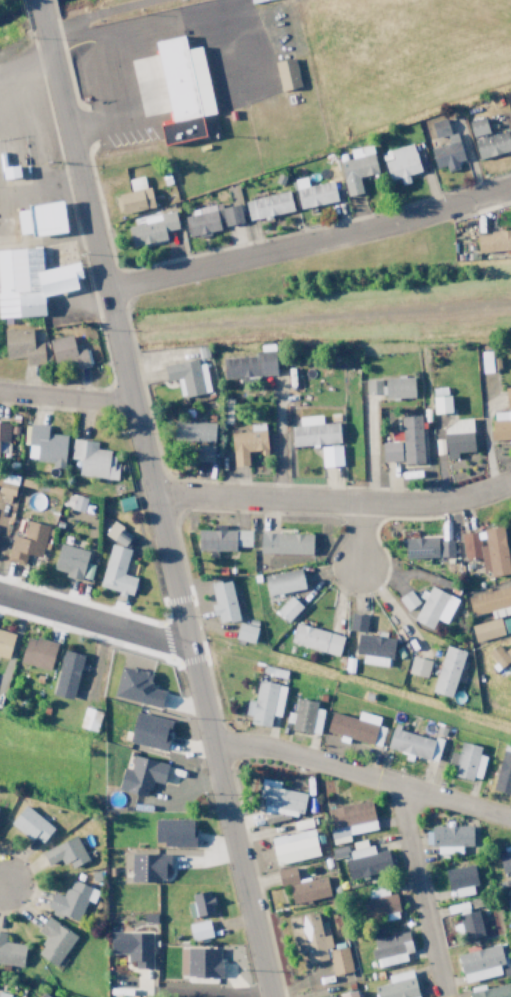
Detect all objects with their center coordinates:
road: (100, 14)
road: (40, 15)
building: (186, 90)
building: (510, 108)
building: (476, 126)
building: (491, 144)
building: (443, 146)
building: (400, 163)
building: (355, 168)
building: (316, 192)
building: (132, 196)
building: (267, 205)
building: (38, 217)
building: (150, 228)
road: (309, 240)
building: (493, 240)
building: (29, 281)
building: (23, 346)
building: (67, 351)
building: (487, 361)
building: (247, 364)
building: (187, 375)
building: (390, 386)
building: (507, 396)
road: (65, 398)
building: (439, 403)
building: (500, 426)
building: (192, 431)
building: (312, 431)
building: (456, 437)
building: (4, 438)
building: (403, 442)
building: (246, 443)
building: (45, 445)
building: (203, 452)
building: (329, 455)
building: (92, 459)
building: (79, 503)
building: (124, 503)
road: (333, 504)
road: (155, 513)
building: (118, 534)
road: (353, 538)
building: (221, 539)
building: (26, 543)
building: (284, 543)
building: (426, 547)
building: (485, 549)
building: (69, 561)
building: (116, 571)
building: (282, 581)
building: (406, 600)
building: (222, 601)
building: (490, 602)
building: (433, 608)
building: (287, 609)
road: (92, 618)
building: (357, 622)
building: (486, 629)
building: (244, 633)
building: (315, 639)
building: (5, 643)
building: (373, 649)
building: (36, 652)
building: (500, 655)
building: (418, 666)
building: (447, 671)
building: (66, 674)
building: (135, 687)
building: (263, 703)
building: (305, 716)
building: (88, 719)
building: (355, 727)
building: (148, 731)
building: (413, 744)
building: (466, 761)
road: (362, 773)
building: (503, 773)
building: (139, 775)
building: (279, 797)
building: (348, 820)
building: (29, 825)
building: (172, 832)
building: (447, 838)
building: (292, 847)
building: (65, 853)
building: (364, 860)
building: (504, 860)
building: (147, 867)
building: (460, 879)
building: (301, 886)
road: (413, 888)
building: (71, 899)
building: (508, 901)
building: (379, 903)
building: (199, 904)
building: (470, 924)
building: (198, 930)
building: (52, 941)
building: (317, 943)
building: (131, 947)
building: (389, 949)
building: (10, 953)
building: (198, 962)
building: (479, 963)
building: (396, 985)
building: (489, 991)
building: (346, 994)
building: (5, 995)
building: (42, 995)
building: (329, 996)

